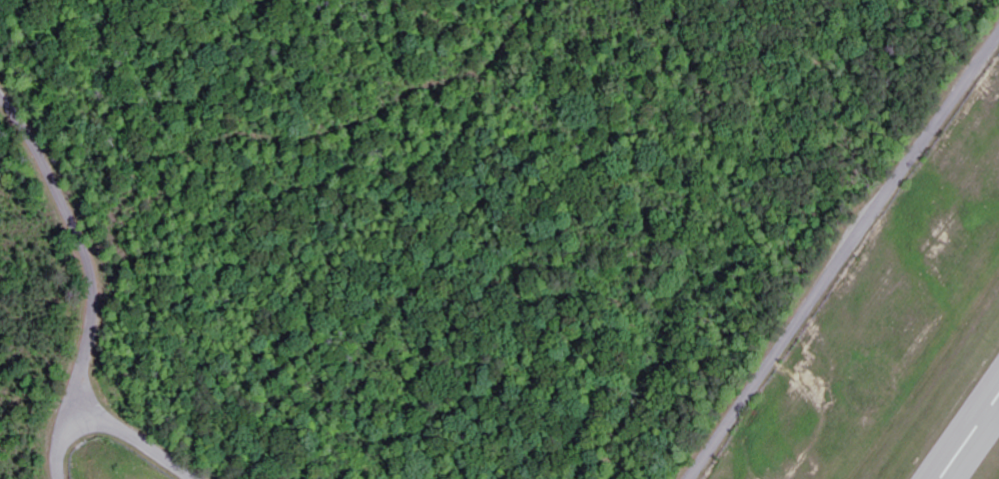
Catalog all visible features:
road: (841, 255)
road: (94, 276)
airport: (900, 338)
road: (136, 438)
airport runway: (970, 438)
airport: (113, 462)

